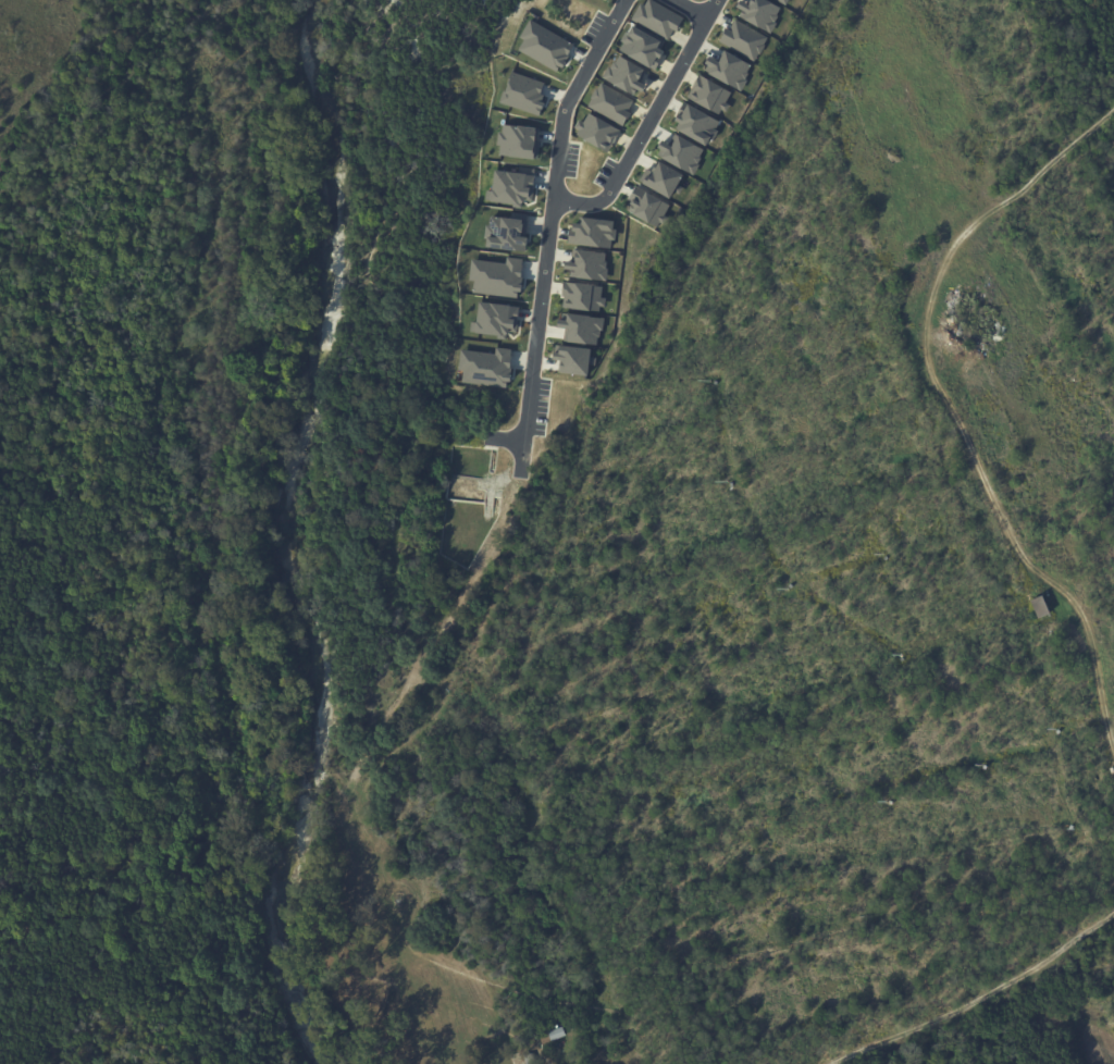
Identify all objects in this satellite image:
building: (783, 1)
road: (692, 10)
building: (759, 13)
building: (657, 17)
building: (743, 39)
building: (545, 46)
building: (641, 46)
building: (729, 69)
building: (626, 74)
building: (523, 94)
building: (710, 94)
building: (610, 103)
road: (651, 121)
building: (697, 124)
building: (602, 134)
building: (519, 141)
building: (682, 153)
park: (83, 172)
building: (664, 180)
building: (512, 187)
building: (648, 206)
road: (552, 227)
building: (508, 231)
building: (592, 233)
building: (587, 265)
building: (497, 276)
building: (582, 296)
building: (496, 319)
building: (581, 327)
building: (573, 359)
building: (486, 367)
road: (953, 413)
road: (506, 440)
building: (1043, 607)
road: (979, 998)
building: (535, 1015)
building: (554, 1037)
building: (521, 1056)

